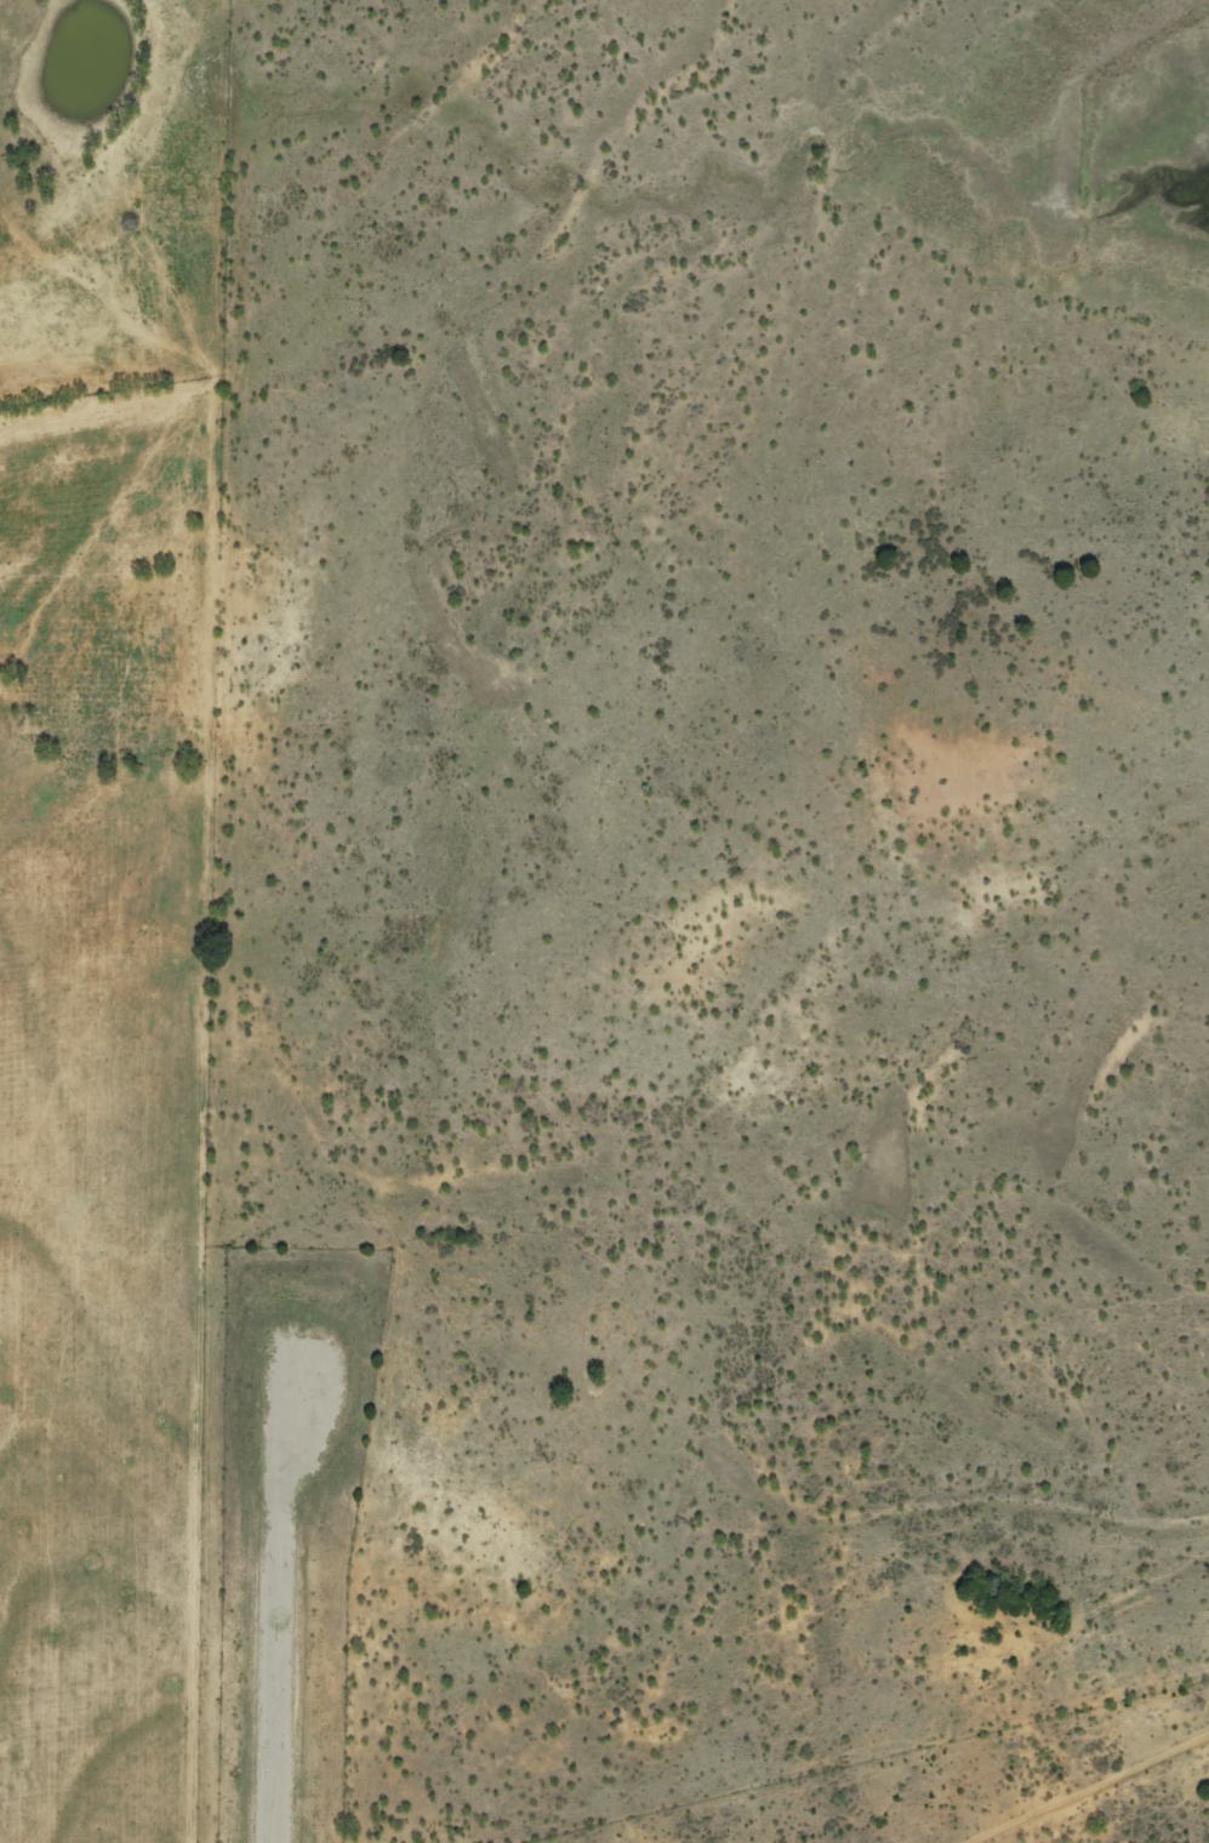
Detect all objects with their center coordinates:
airport runway: (276, 1585)
road: (1100, 1802)

